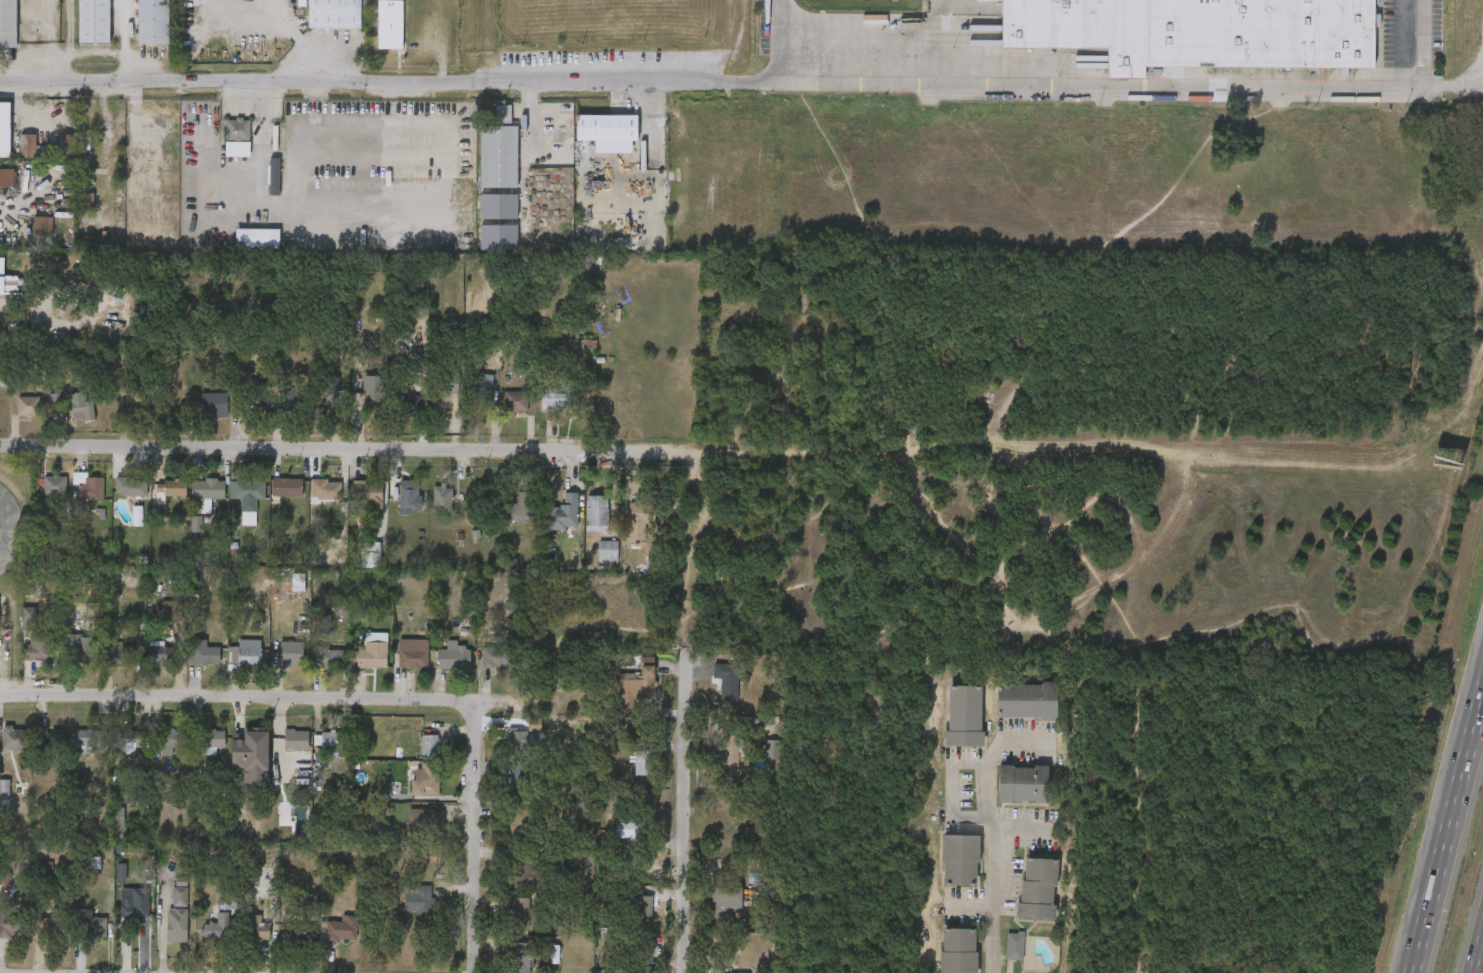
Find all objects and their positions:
building: (333, 13)
building: (94, 21)
building: (152, 21)
building: (8, 23)
road: (882, 23)
building: (390, 24)
building: (1199, 30)
road: (1452, 80)
road: (1097, 82)
road: (388, 83)
building: (503, 113)
building: (4, 128)
building: (606, 132)
building: (238, 136)
building: (47, 145)
building: (499, 155)
building: (275, 174)
building: (6, 176)
building: (86, 202)
building: (43, 227)
building: (257, 238)
building: (16, 286)
building: (449, 383)
building: (483, 385)
building: (255, 391)
building: (134, 394)
building: (371, 394)
building: (332, 397)
building: (559, 399)
building: (58, 400)
building: (517, 401)
building: (407, 403)
building: (214, 404)
building: (291, 404)
building: (28, 405)
building: (81, 406)
road: (338, 448)
building: (131, 485)
building: (171, 485)
building: (55, 486)
building: (92, 486)
building: (287, 486)
building: (209, 487)
building: (247, 488)
building: (326, 488)
building: (367, 490)
building: (410, 493)
building: (448, 499)
building: (524, 504)
building: (565, 512)
building: (598, 512)
building: (137, 516)
building: (638, 521)
building: (196, 524)
building: (608, 550)
building: (298, 582)
building: (112, 586)
building: (340, 607)
building: (171, 612)
building: (325, 625)
building: (38, 645)
building: (81, 647)
building: (120, 652)
building: (160, 652)
building: (248, 652)
building: (293, 652)
building: (204, 653)
building: (412, 654)
building: (454, 655)
building: (496, 655)
building: (332, 656)
building: (371, 656)
building: (727, 678)
building: (638, 685)
road: (287, 697)
building: (1027, 700)
building: (965, 715)
building: (535, 725)
building: (16, 736)
building: (173, 736)
building: (51, 737)
building: (89, 737)
building: (131, 737)
building: (212, 737)
building: (253, 739)
building: (296, 739)
building: (519, 740)
building: (332, 741)
building: (430, 744)
building: (727, 748)
building: (773, 748)
building: (643, 761)
building: (425, 777)
building: (120, 778)
building: (521, 779)
building: (1023, 784)
road: (950, 791)
building: (4, 793)
road: (685, 815)
building: (519, 820)
building: (426, 822)
building: (121, 825)
building: (627, 826)
road: (1449, 829)
road: (474, 831)
road: (991, 831)
building: (961, 861)
building: (95, 863)
building: (524, 870)
building: (46, 873)
building: (121, 873)
building: (1038, 889)
building: (228, 898)
building: (420, 898)
building: (726, 902)
building: (137, 905)
building: (643, 905)
building: (520, 912)
building: (178, 914)
building: (53, 922)
building: (9, 923)
building: (92, 924)
building: (217, 925)
building: (257, 927)
building: (338, 927)
building: (303, 929)
building: (296, 937)
building: (1015, 946)
building: (958, 950)
building: (554, 954)
building: (520, 957)
road: (1480, 963)
building: (643, 970)
building: (747, 972)

